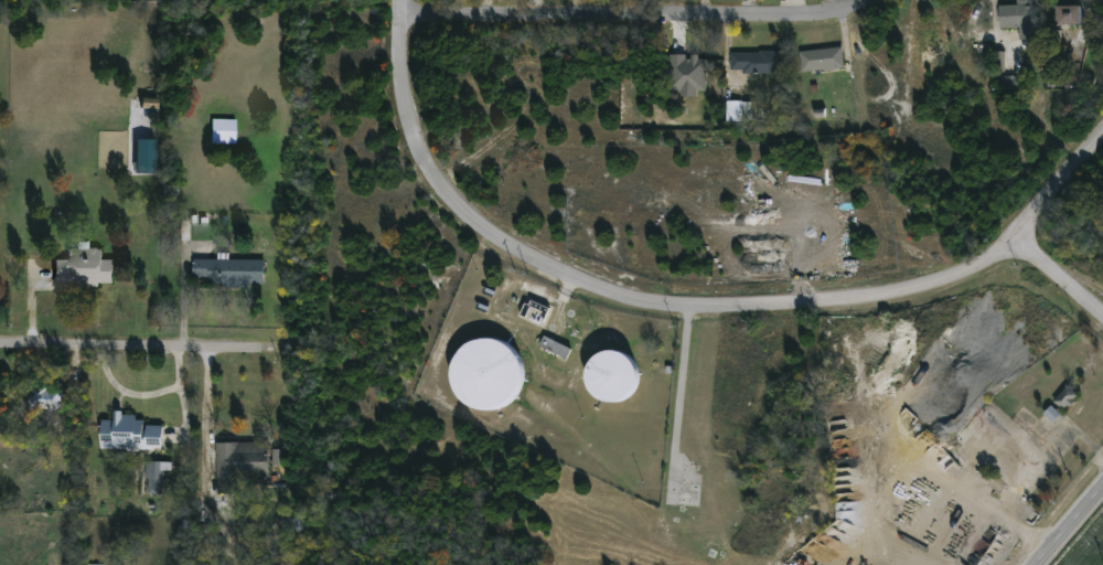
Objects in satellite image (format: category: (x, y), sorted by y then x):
building: (1067, 15)
road: (642, 17)
building: (1018, 20)
building: (821, 61)
building: (756, 63)
building: (687, 74)
building: (1009, 81)
building: (149, 102)
building: (740, 110)
building: (224, 130)
building: (144, 156)
building: (82, 266)
building: (226, 269)
road: (1057, 278)
road: (694, 307)
building: (535, 313)
road: (141, 344)
building: (554, 349)
building: (488, 371)
water tower: (488, 371)
building: (613, 373)
water tower: (614, 373)
road: (141, 392)
building: (50, 398)
building: (1064, 399)
road: (205, 416)
building: (128, 431)
building: (278, 457)
building: (238, 462)
building: (154, 475)
road: (959, 494)
road: (1067, 523)
building: (95, 564)

